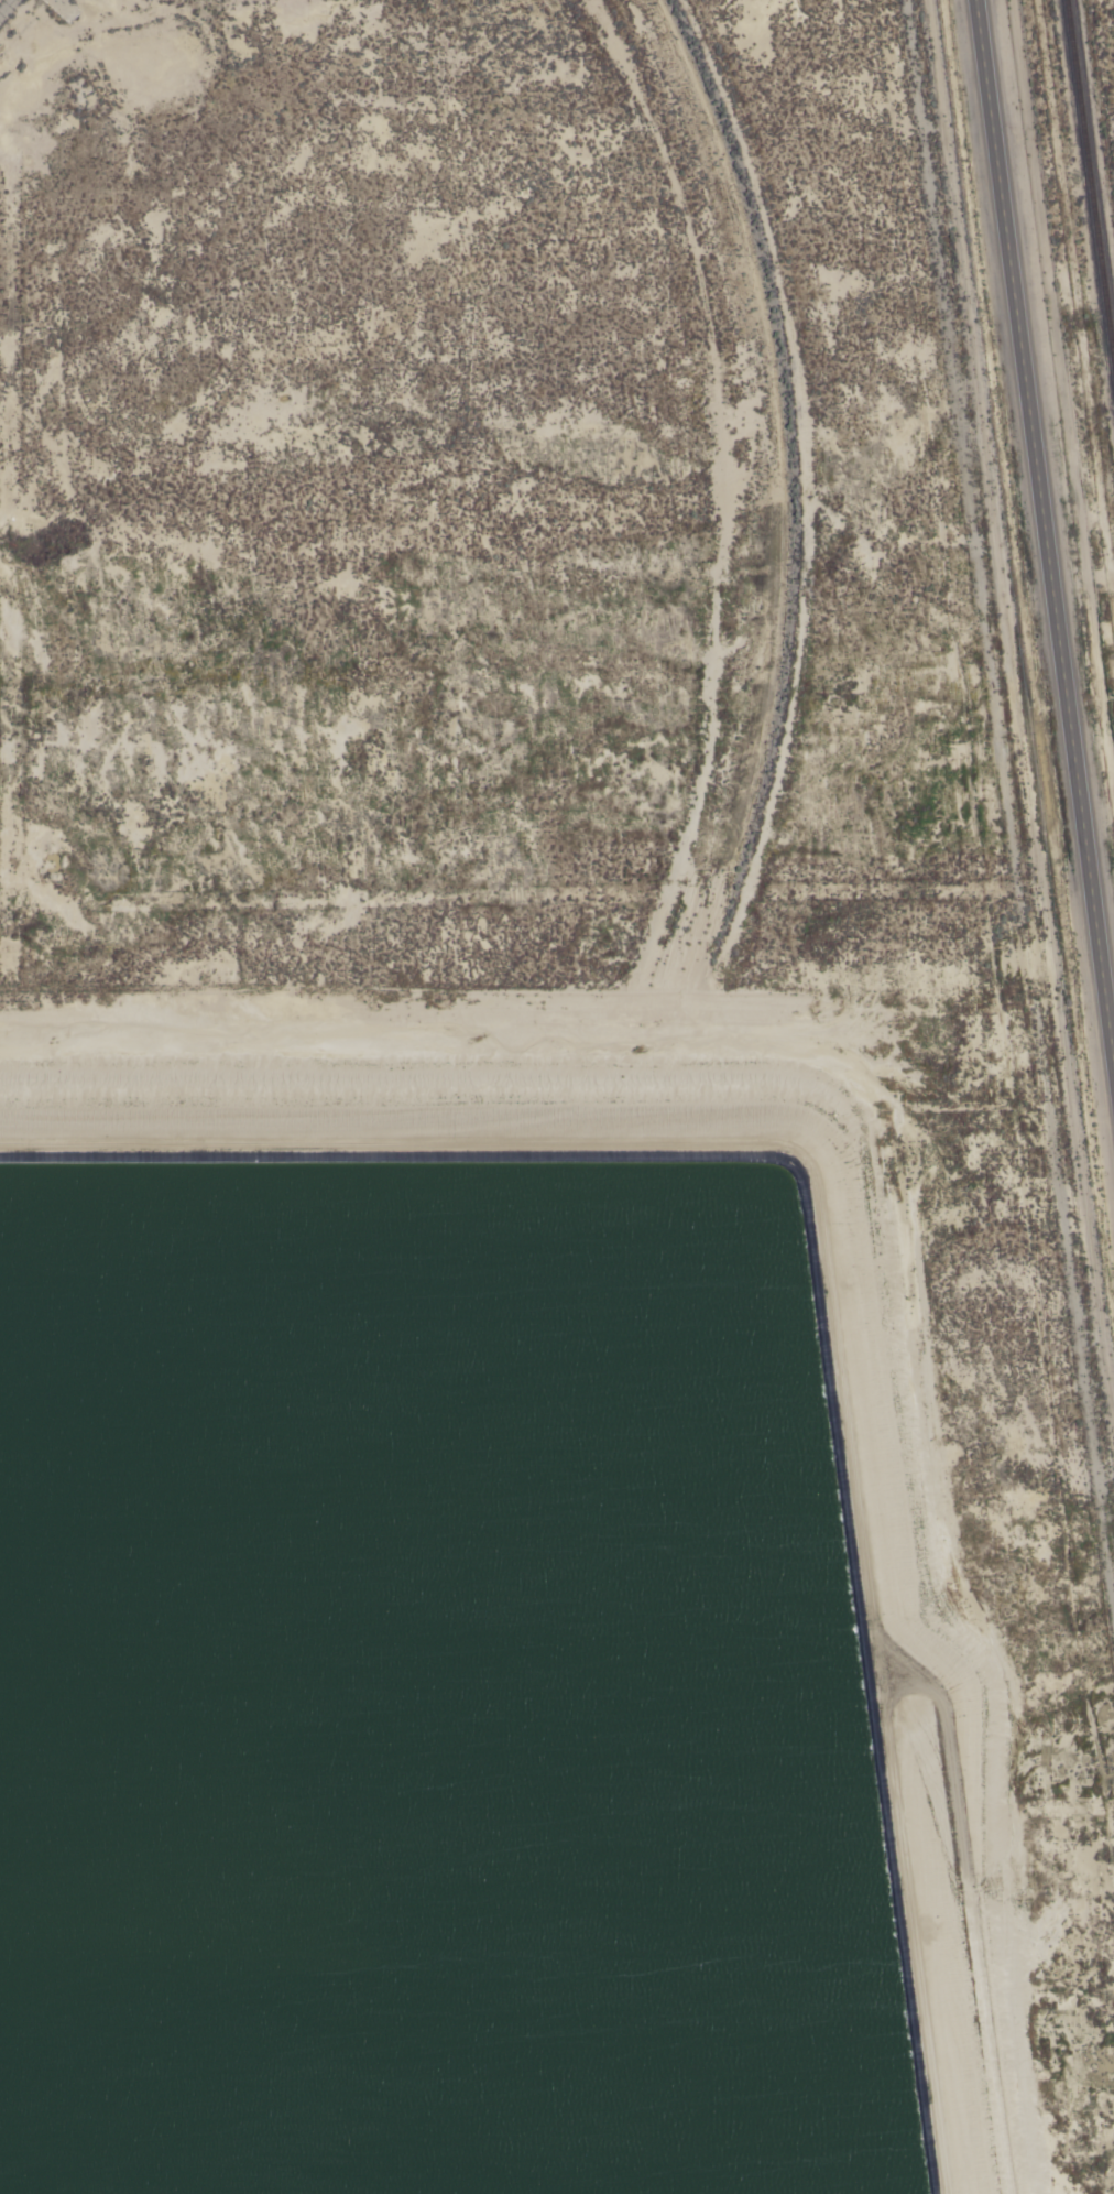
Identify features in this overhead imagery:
railway: (1090, 185)
road: (1042, 536)
wastewater plant: (550, 1596)

